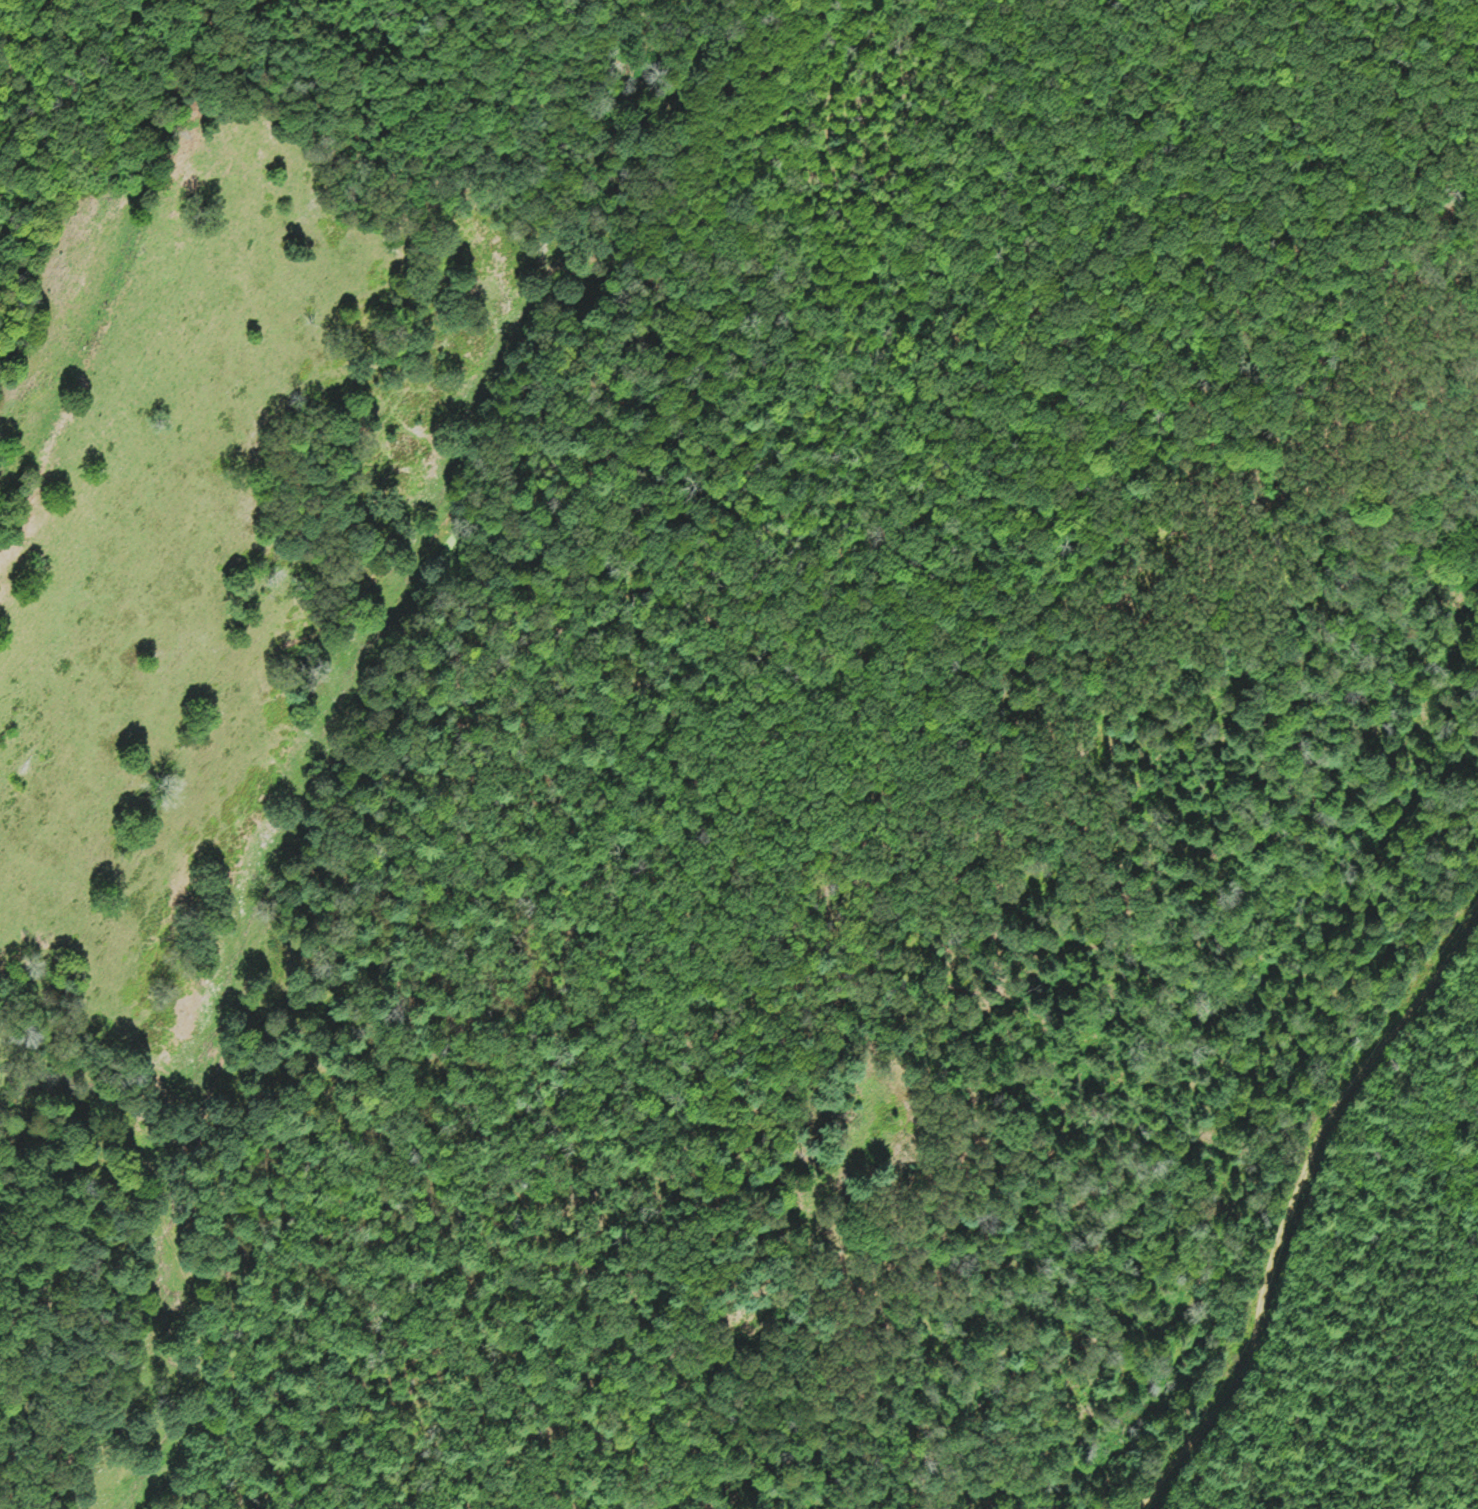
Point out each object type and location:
road: (1293, 1197)

